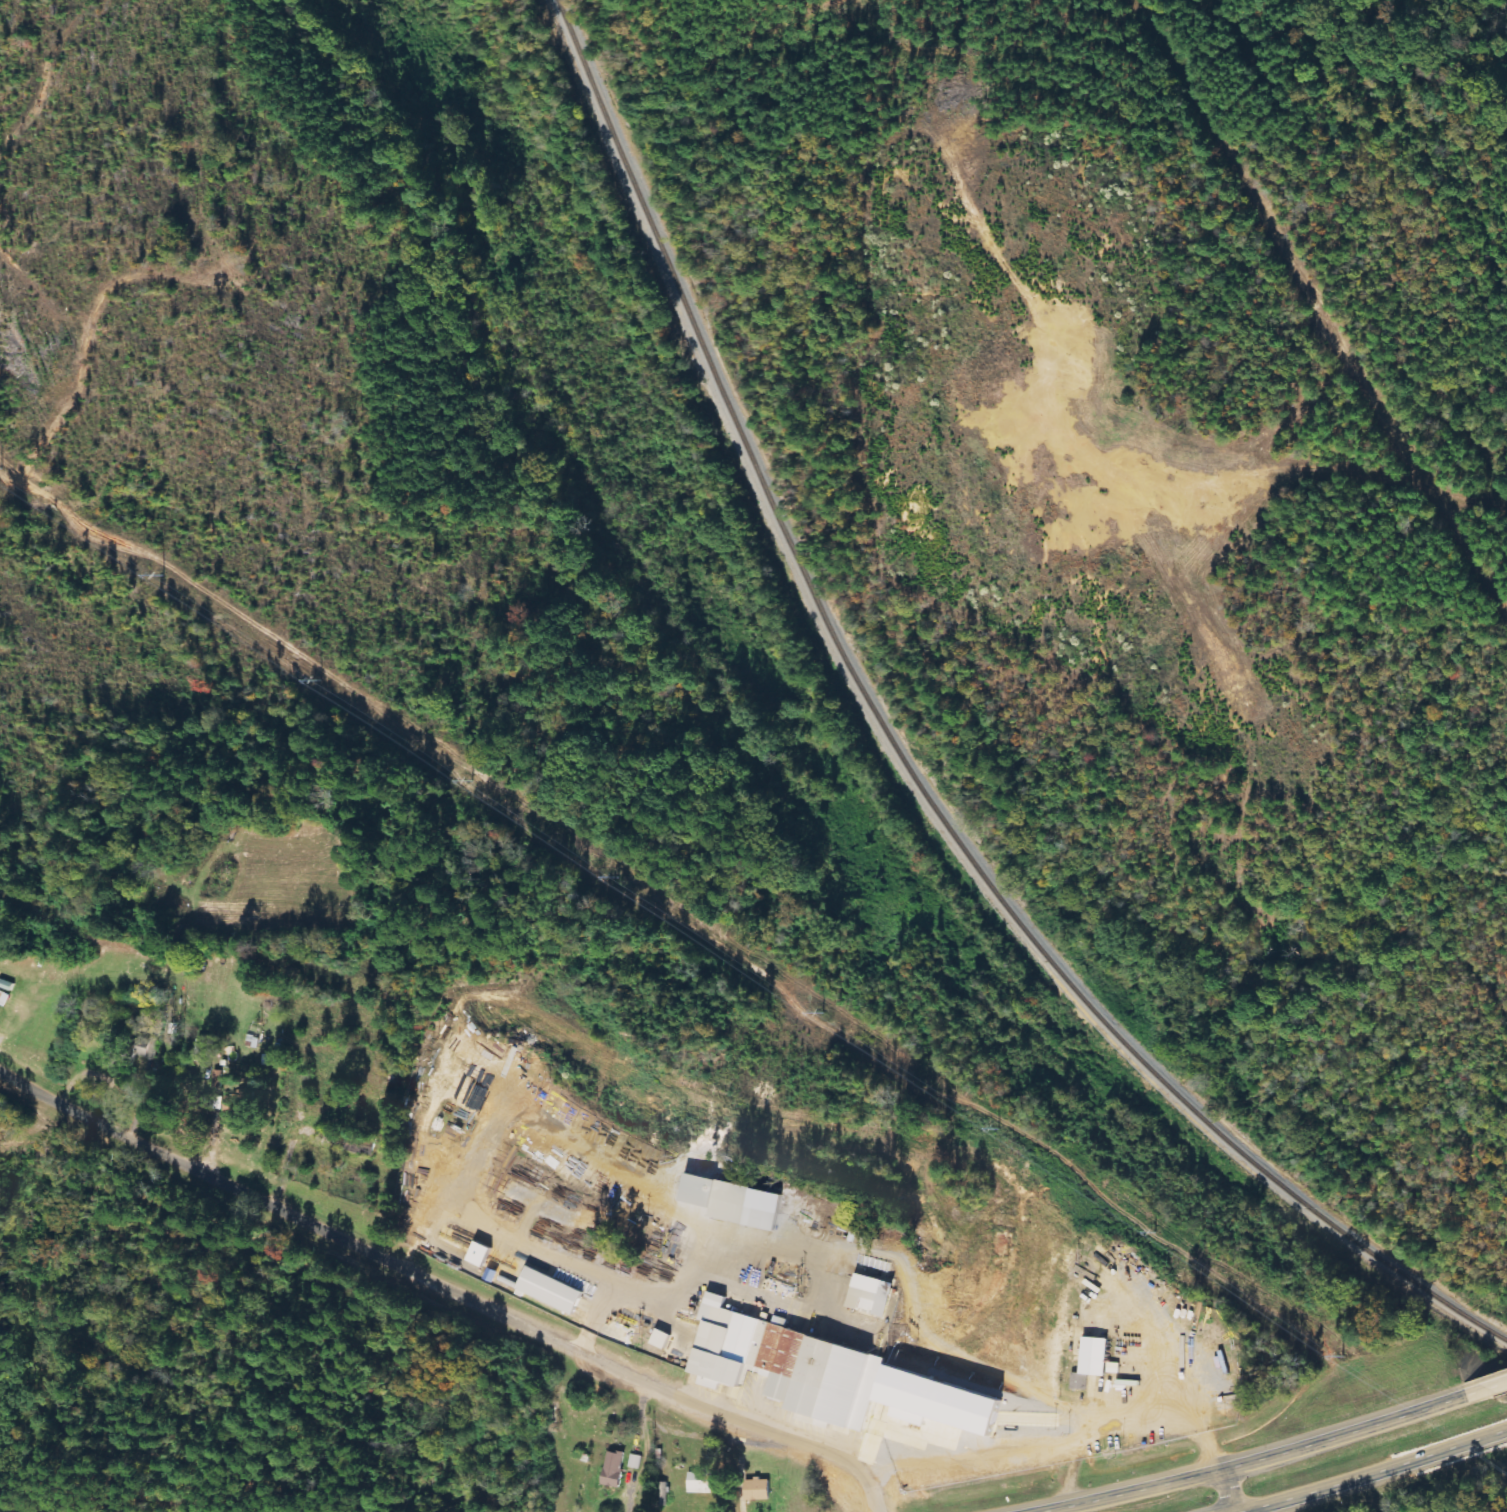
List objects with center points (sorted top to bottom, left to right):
railway: (903, 762)
building: (0, 1011)
building: (205, 1052)
building: (132, 1054)
building: (219, 1079)
building: (242, 1105)
building: (732, 1202)
building: (485, 1254)
road: (446, 1289)
building: (556, 1291)
building: (877, 1295)
building: (665, 1339)
building: (1097, 1363)
building: (794, 1366)
road: (1499, 1378)
road: (1257, 1452)
building: (637, 1461)
building: (616, 1469)
road: (1368, 1469)
building: (703, 1483)
road: (1227, 1487)
building: (763, 1490)
road: (1234, 1511)

